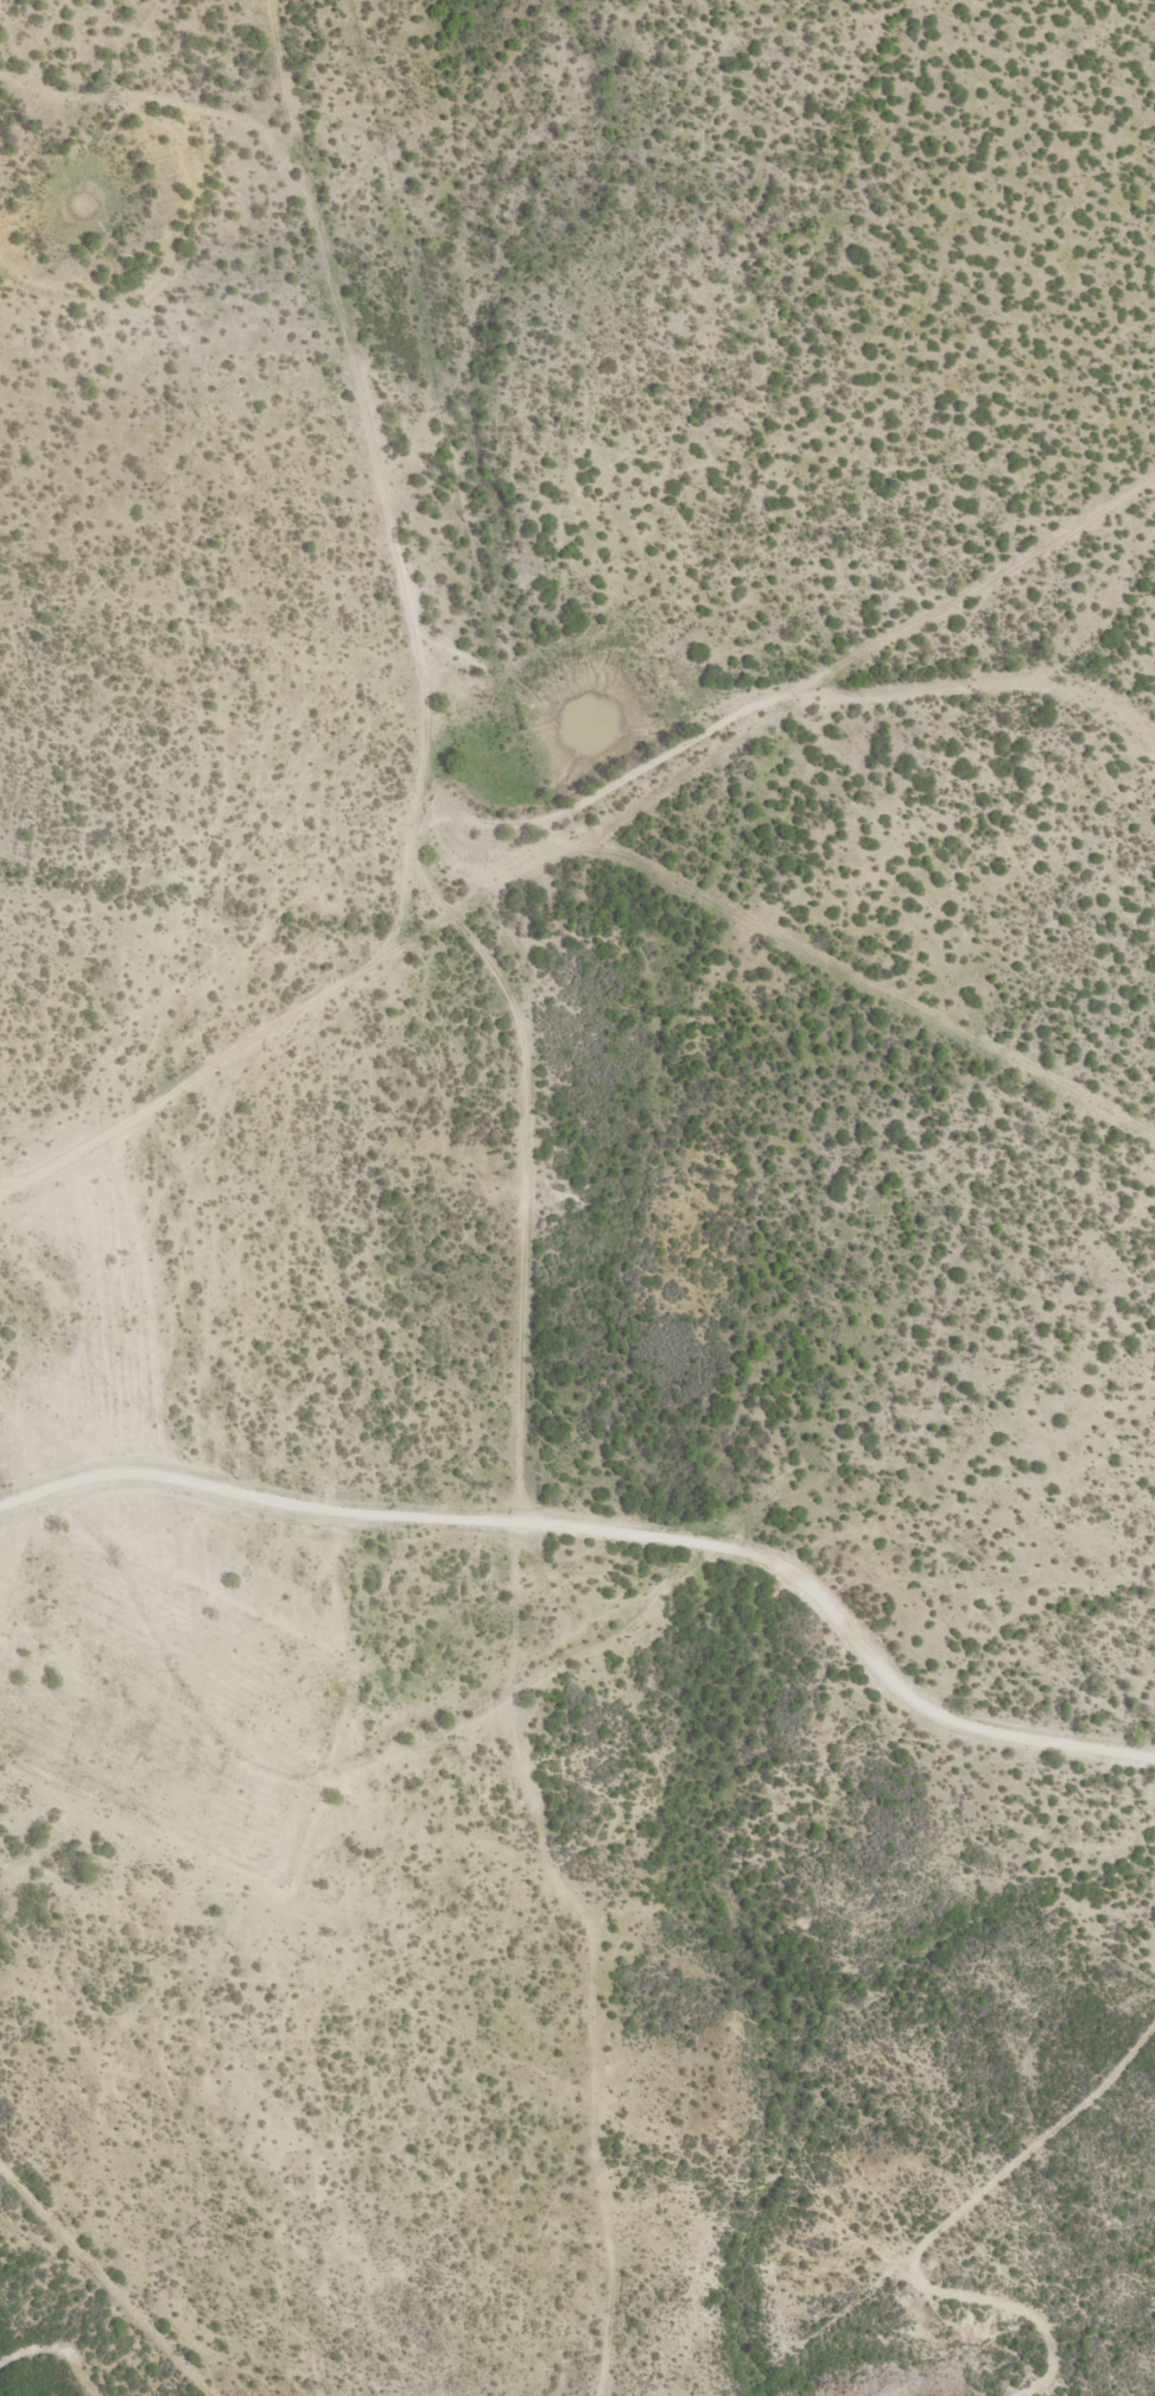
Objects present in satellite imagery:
road: (484, 851)
road: (546, 1726)

